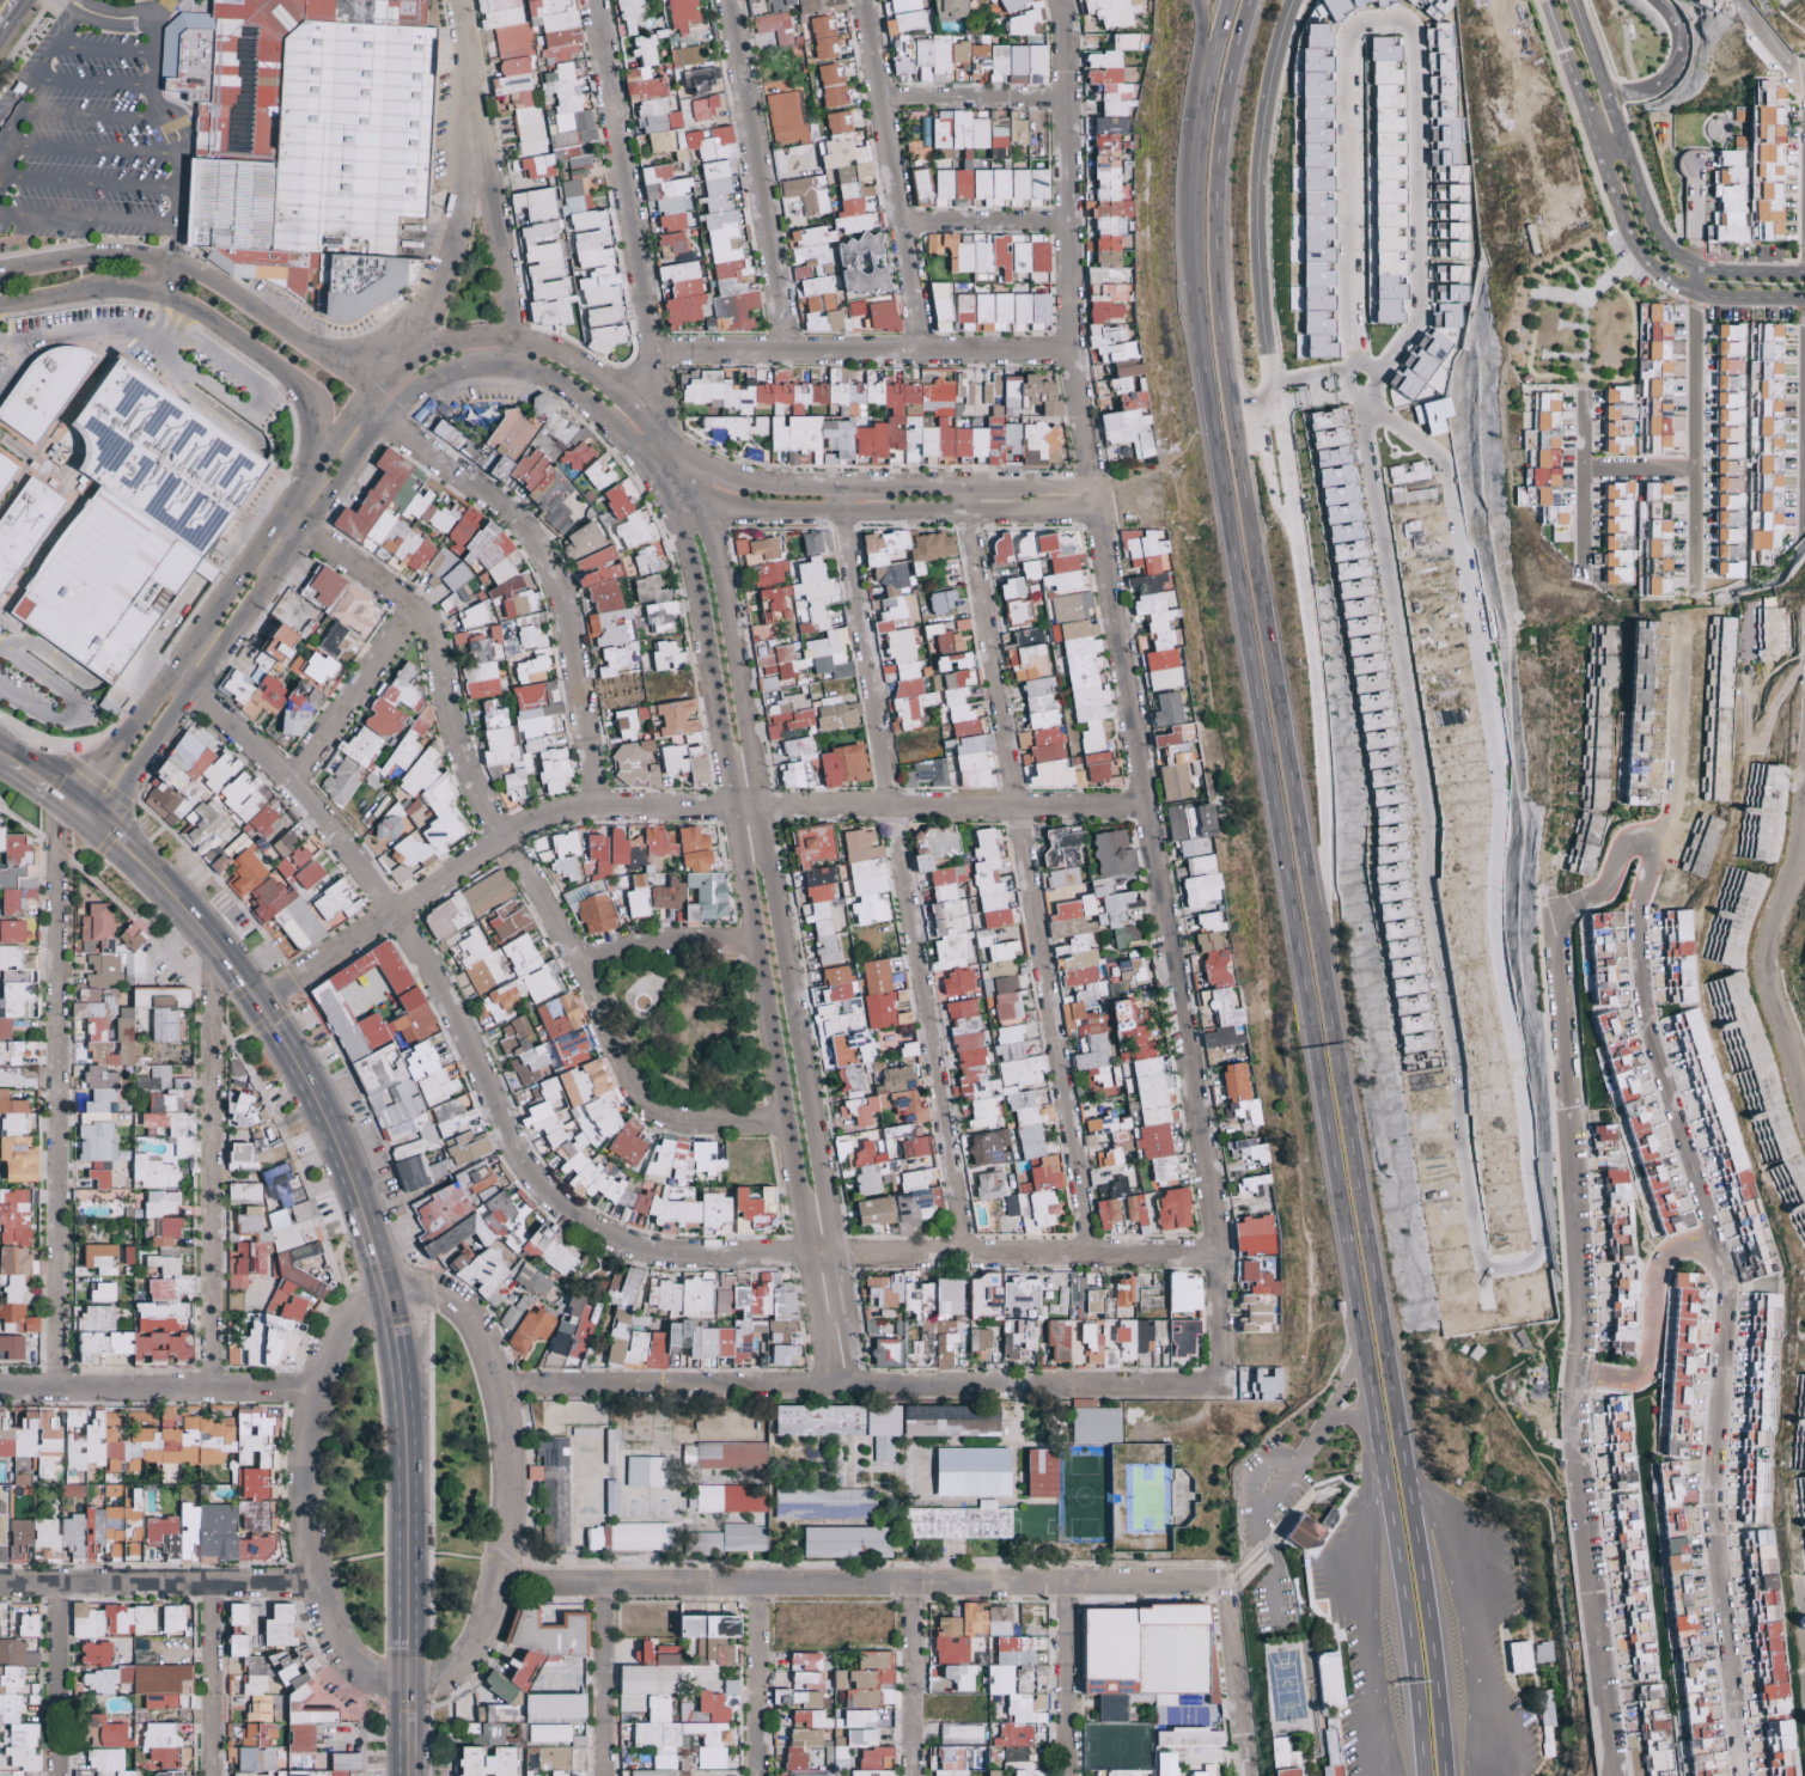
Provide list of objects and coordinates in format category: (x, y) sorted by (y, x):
building: (1371, 2)
building: (1336, 7)
building: (1432, 7)
building: (949, 8)
building: (1109, 12)
building: (681, 13)
building: (629, 14)
building: (1022, 17)
building: (772, 18)
building: (821, 31)
building: (902, 32)
building: (685, 55)
building: (996, 63)
building: (1026, 65)
building: (642, 71)
building: (695, 77)
building: (831, 85)
building: (1315, 104)
building: (703, 108)
building: (785, 117)
building: (1444, 117)
building: (1017, 128)
parking lot: (96, 132)
building: (950, 134)
building: (306, 140)
building: (555, 167)
building: (1752, 177)
building: (1386, 181)
building: (980, 188)
building: (724, 212)
building: (1315, 227)
building: (1451, 231)
building: (840, 242)
building: (671, 245)
parking lot: (1614, 245)
building: (992, 254)
building: (1115, 256)
parking lot: (1639, 276)
park: (470, 283)
building: (682, 293)
building: (1315, 315)
parking lot: (77, 317)
park: (1575, 319)
building: (1435, 342)
parking lot: (142, 359)
parking lot: (2, 364)
parking lot: (228, 380)
building: (1644, 390)
building: (43, 391)
building: (898, 416)
building: (733, 428)
building: (531, 456)
building: (6, 470)
building: (599, 472)
building: (627, 515)
parking lot: (116, 519)
building: (133, 521)
building: (24, 526)
parking lot: (2, 624)
parking lot: (28, 700)
park: (691, 1033)

